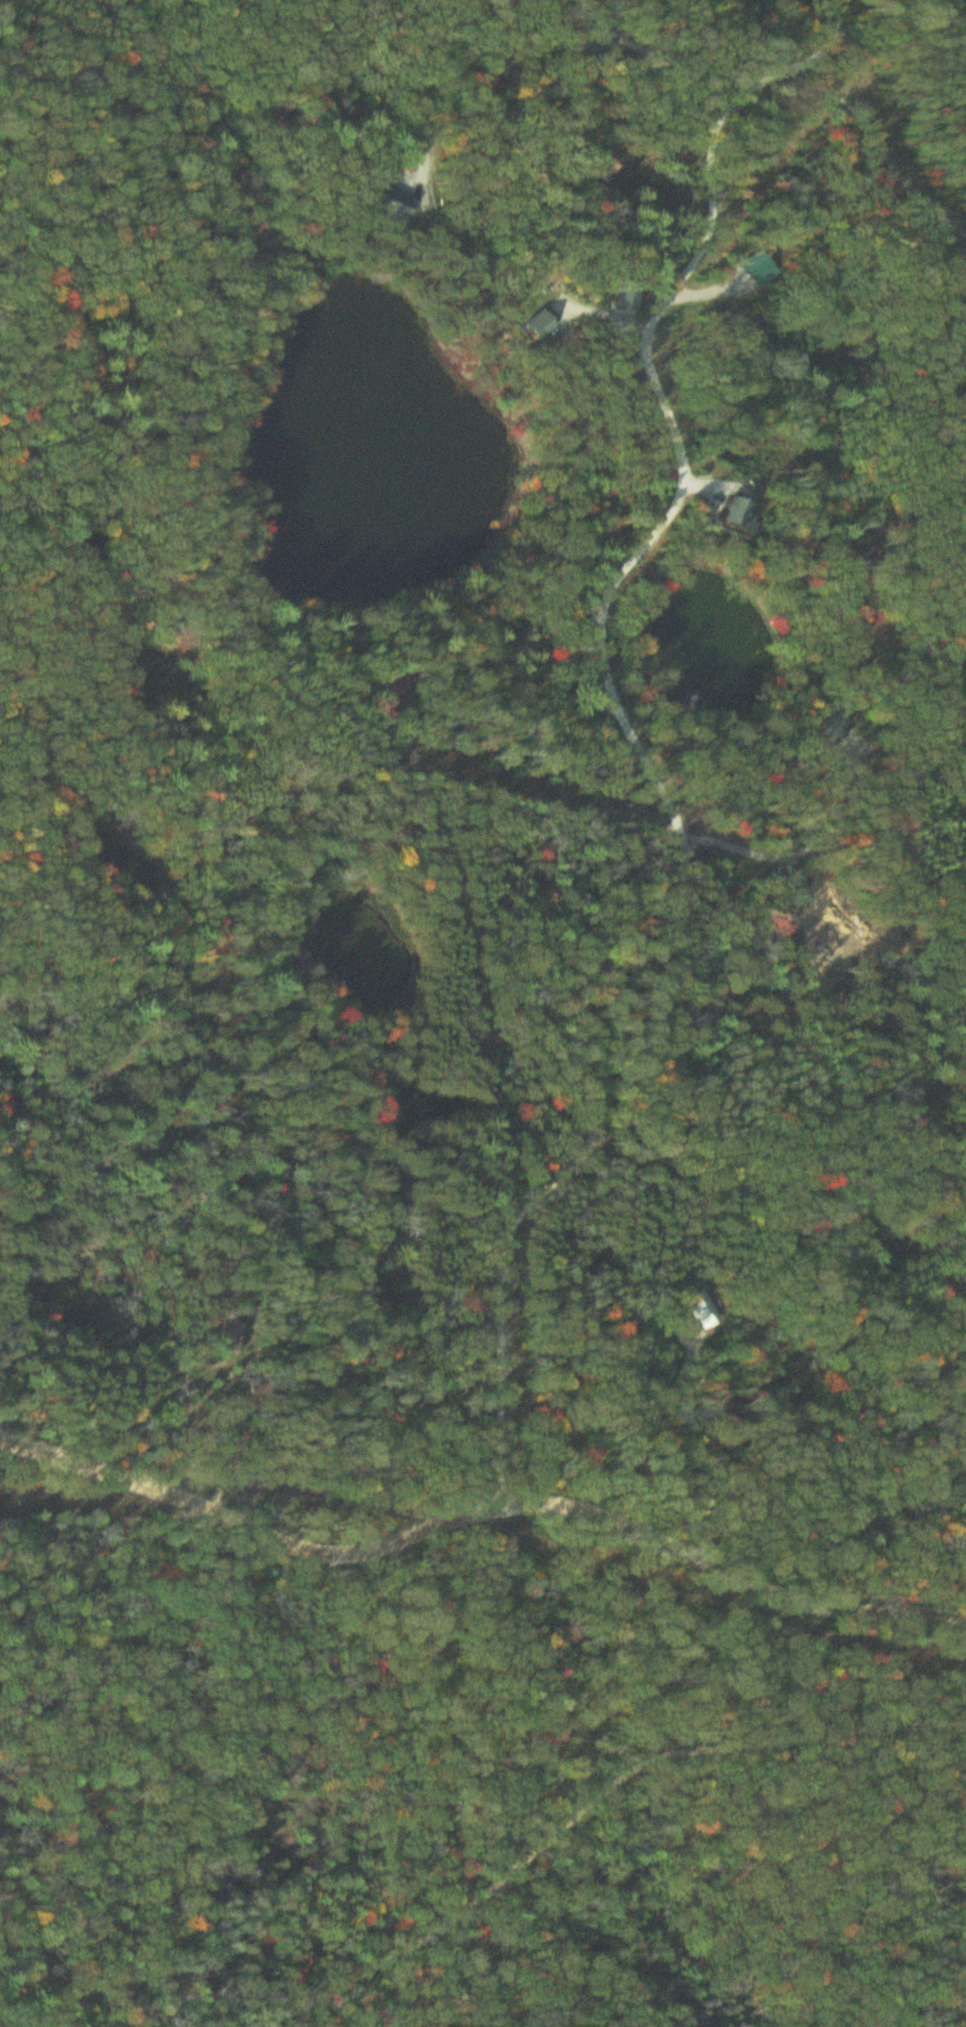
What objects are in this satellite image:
building: (397, 209)
building: (541, 326)
building: (829, 724)
road: (480, 1522)
road: (153, 1692)

